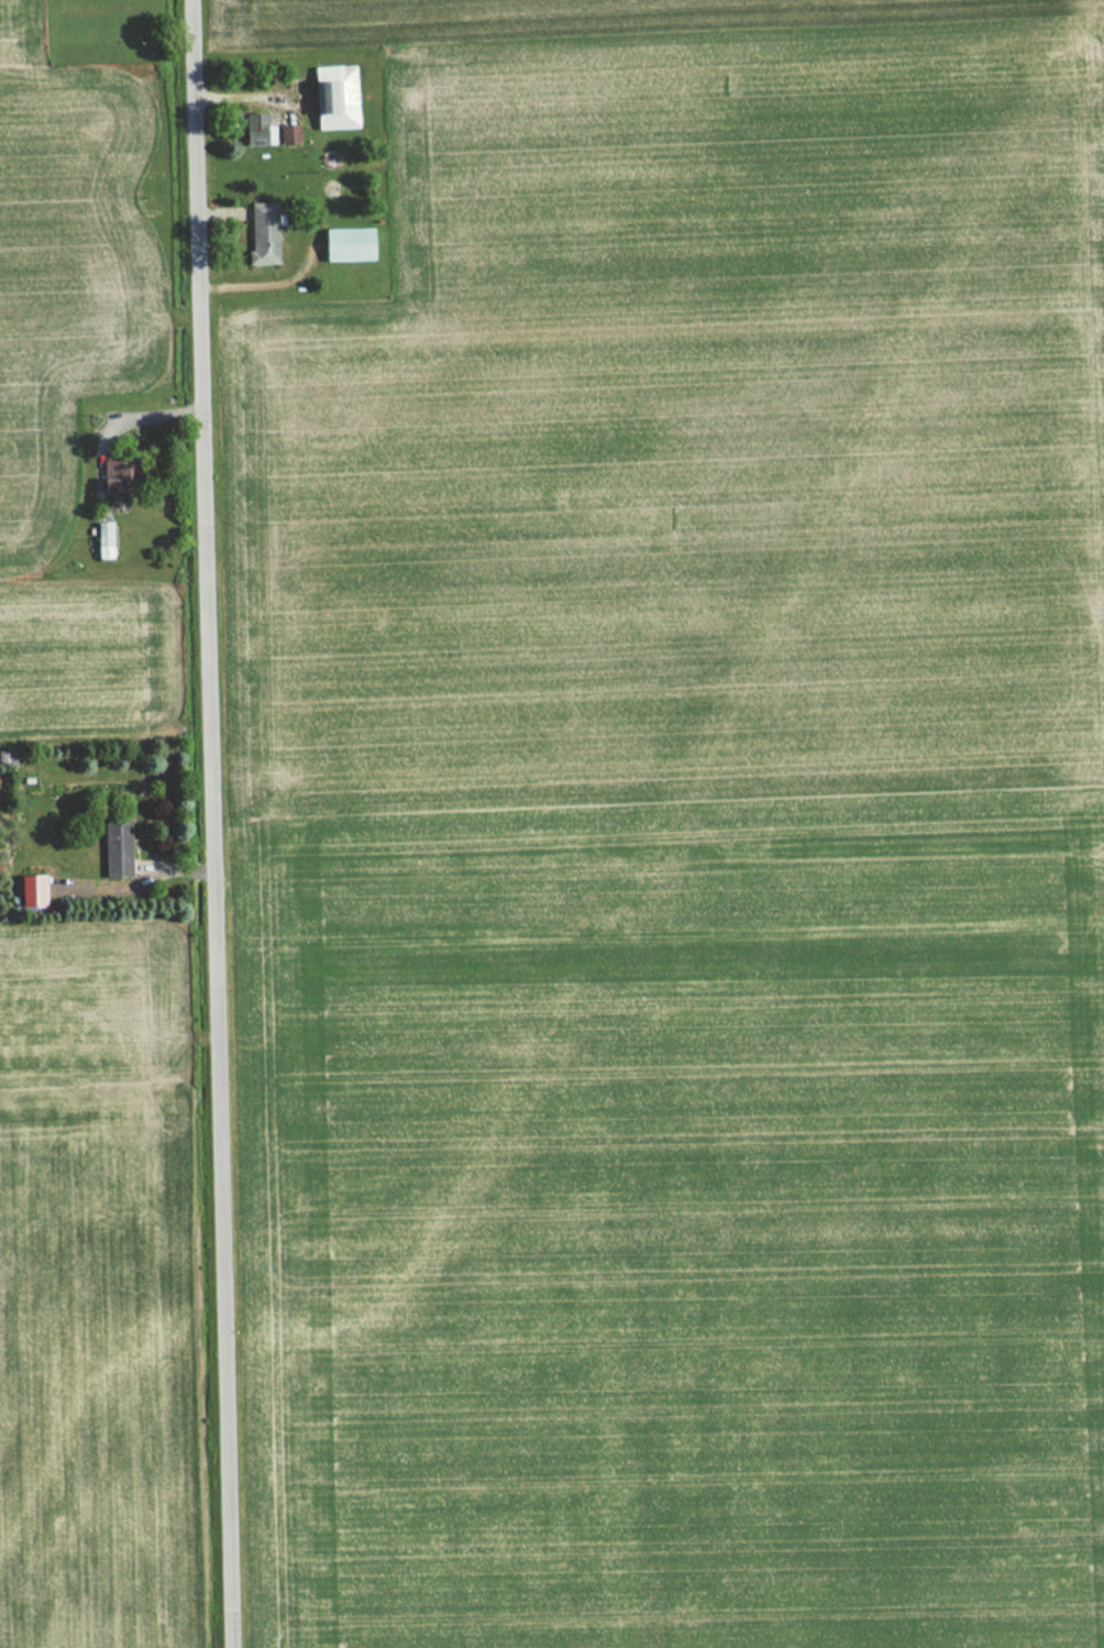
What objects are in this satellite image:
crop: (21, 29)
building: (331, 97)
building: (344, 244)
building: (255, 254)
crop: (76, 389)
building: (99, 540)
building: (4, 758)
road: (214, 823)
crop: (678, 838)
building: (112, 849)
building: (25, 891)
crop: (96, 1288)

